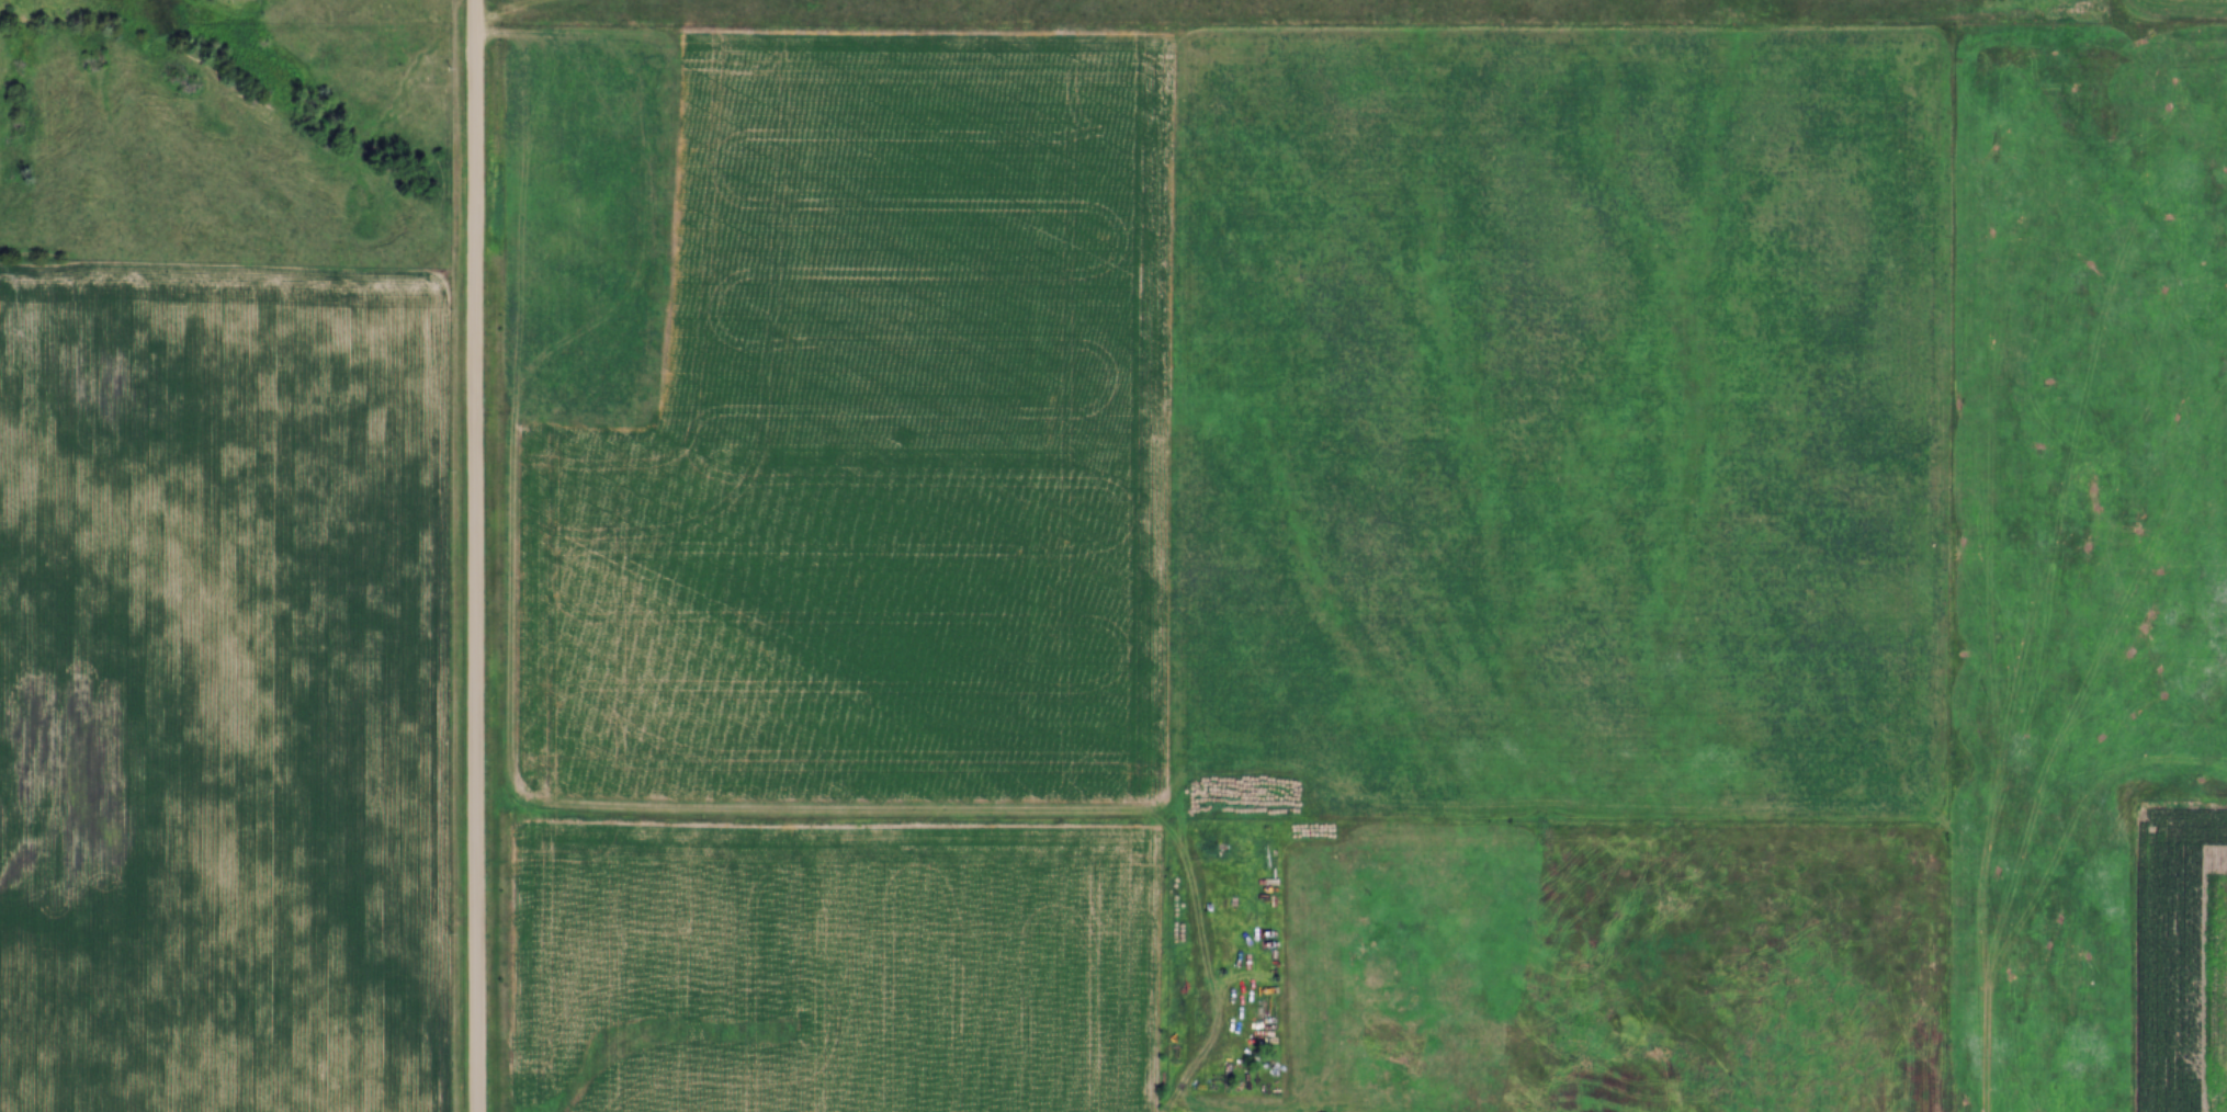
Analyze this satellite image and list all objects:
road: (477, 556)

